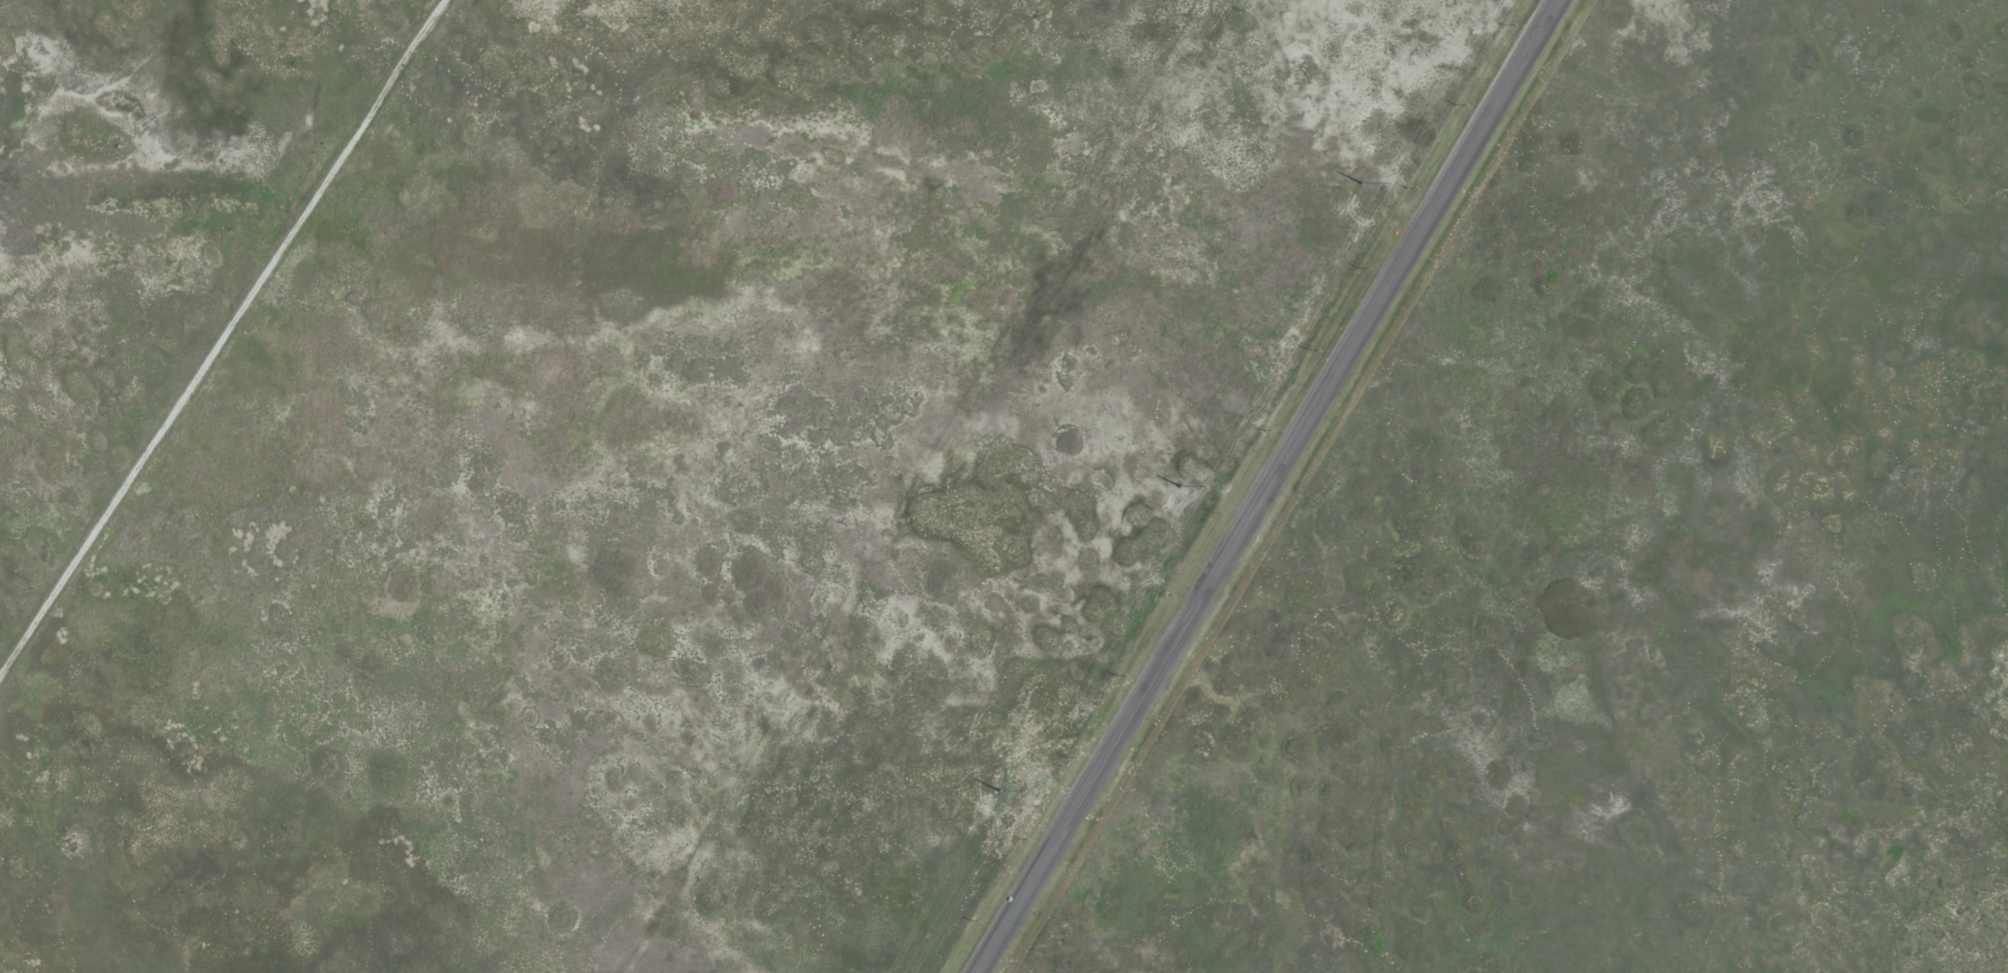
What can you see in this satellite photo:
power tower: (1361, 186)
park: (626, 448)
road: (1274, 486)
power tower: (1178, 489)
park: (1639, 553)
power tower: (998, 793)

